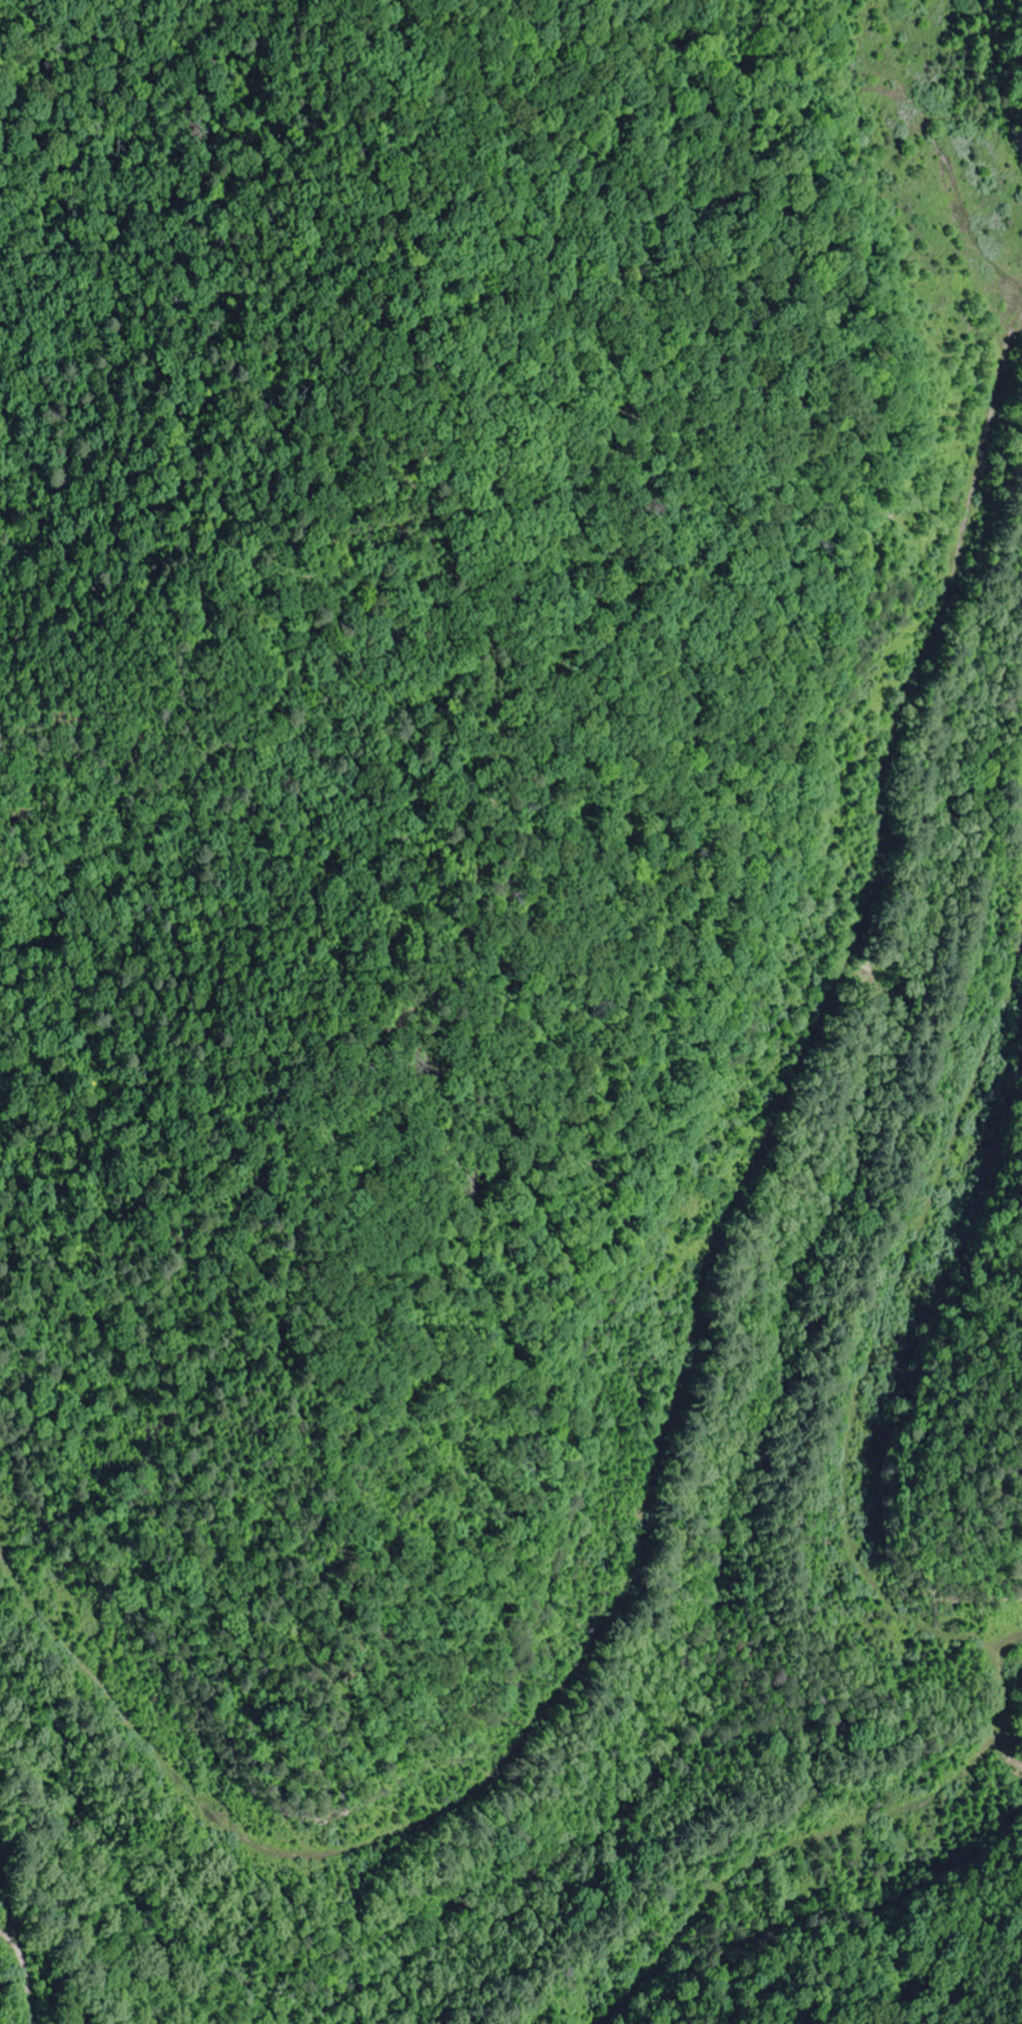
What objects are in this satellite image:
road: (9, 1971)

